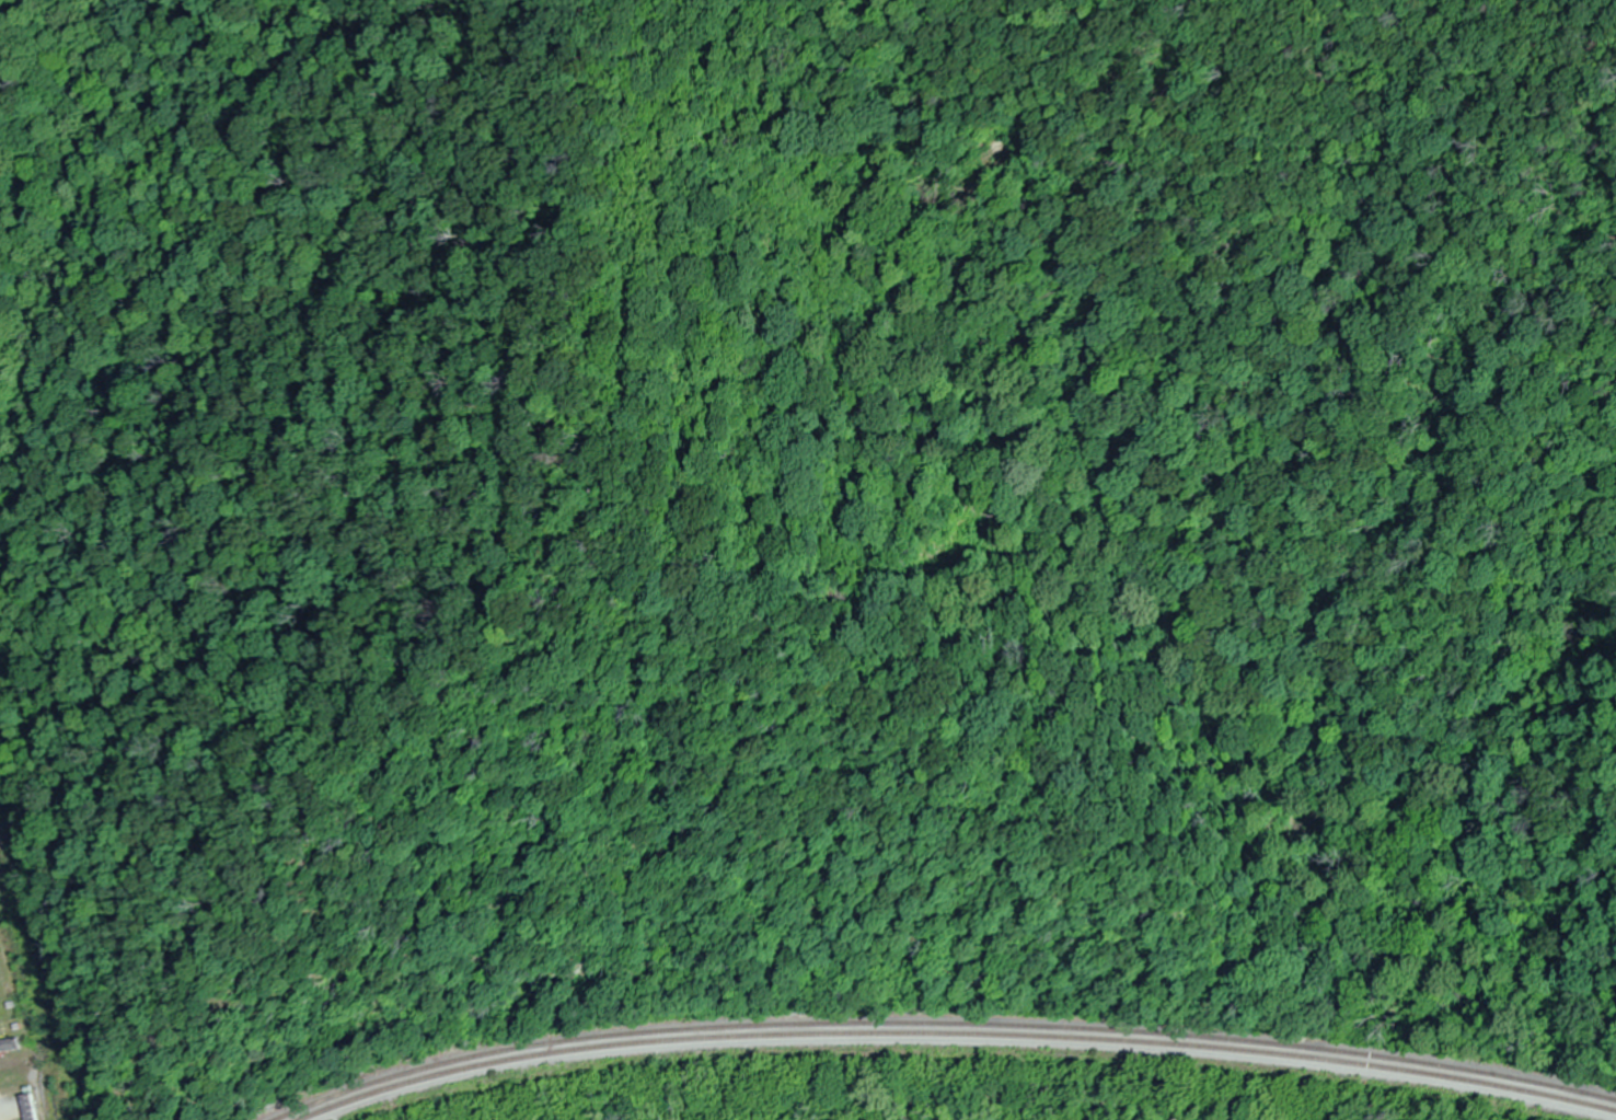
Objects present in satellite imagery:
railway: (944, 1024)
railway: (956, 1034)

